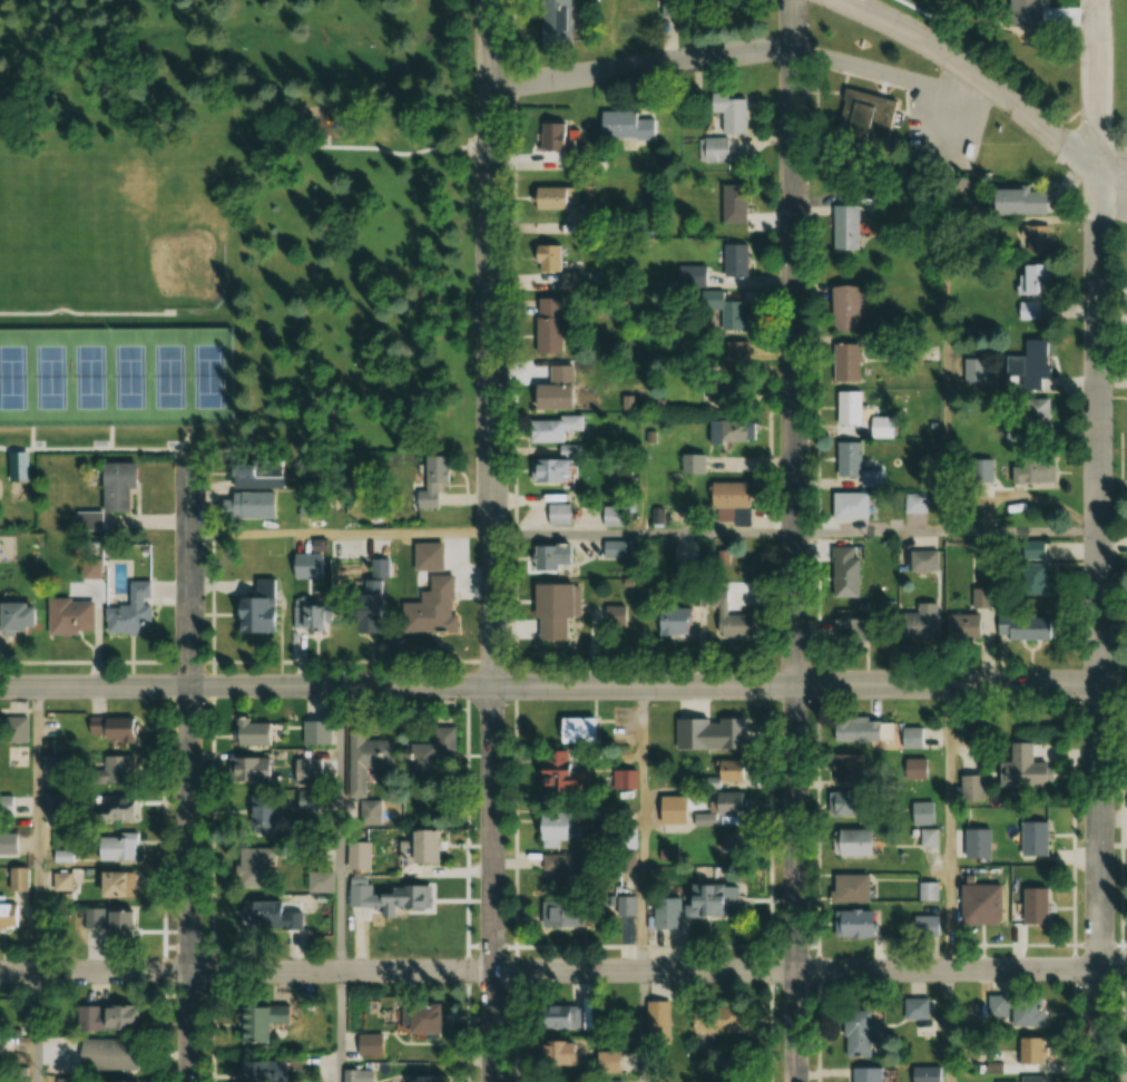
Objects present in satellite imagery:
building: (1023, 13)
building: (555, 21)
road: (940, 23)
road: (641, 66)
road: (993, 86)
building: (727, 113)
building: (625, 126)
road: (964, 134)
building: (860, 137)
building: (552, 138)
building: (713, 150)
road: (1113, 167)
building: (552, 197)
building: (1016, 202)
building: (733, 205)
park: (156, 227)
building: (844, 228)
park: (234, 230)
park: (33, 232)
building: (1033, 238)
building: (546, 259)
building: (734, 260)
building: (1031, 280)
building: (547, 306)
building: (842, 308)
building: (1028, 311)
building: (731, 316)
building: (546, 335)
building: (737, 358)
road: (948, 360)
building: (844, 362)
building: (1029, 365)
building: (976, 372)
park: (116, 377)
building: (553, 390)
building: (846, 407)
building: (1036, 417)
building: (550, 429)
building: (731, 430)
building: (846, 459)
building: (14, 466)
building: (981, 470)
building: (1032, 470)
building: (547, 471)
building: (431, 482)
building: (115, 486)
building: (729, 501)
building: (914, 504)
building: (252, 505)
building: (847, 505)
building: (552, 515)
building: (612, 516)
road: (645, 532)
road: (872, 532)
road: (1023, 532)
road: (341, 533)
road: (493, 540)
road: (796, 540)
road: (1099, 540)
building: (615, 548)
building: (550, 557)
building: (843, 573)
road: (189, 574)
building: (1037, 577)
building: (980, 598)
building: (364, 606)
building: (257, 608)
building: (431, 608)
building: (130, 611)
building: (305, 611)
building: (551, 612)
building: (71, 616)
building: (22, 618)
building: (729, 618)
building: (673, 622)
building: (918, 622)
building: (960, 625)
building: (1022, 627)
road: (95, 685)
road: (658, 685)
building: (14, 728)
building: (110, 728)
building: (853, 729)
building: (578, 730)
building: (252, 732)
building: (317, 732)
building: (707, 733)
building: (432, 753)
building: (19, 757)
building: (1019, 759)
building: (846, 767)
building: (917, 768)
building: (111, 769)
building: (248, 769)
building: (556, 770)
building: (725, 772)
building: (623, 778)
building: (355, 783)
building: (973, 787)
building: (849, 803)
building: (6, 805)
building: (721, 808)
building: (115, 810)
building: (262, 812)
building: (921, 812)
parking lot: (1125, 815)
building: (557, 826)
road: (949, 827)
road: (341, 828)
road: (643, 828)
road: (38, 829)
building: (928, 837)
building: (1032, 837)
building: (850, 841)
building: (7, 844)
building: (416, 844)
building: (114, 847)
building: (357, 855)
building: (253, 865)
building: (562, 868)
building: (18, 878)
building: (61, 880)
building: (320, 880)
building: (112, 884)
road: (190, 884)
building: (850, 887)
building: (928, 890)
building: (360, 896)
building: (405, 898)
building: (978, 903)
building: (623, 905)
building: (695, 905)
building: (1032, 905)
building: (559, 913)
building: (268, 915)
building: (110, 922)
building: (852, 924)
road: (95, 972)
road: (659, 972)
building: (1010, 1010)
building: (555, 1015)
building: (105, 1017)
building: (419, 1017)
building: (658, 1021)
building: (248, 1024)
building: (728, 1024)
road: (38, 1026)
road: (340, 1026)
road: (643, 1026)
road: (949, 1026)
building: (855, 1033)
building: (370, 1044)
building: (1029, 1050)
building: (556, 1052)
building: (108, 1053)
building: (606, 1062)
building: (253, 1071)
building: (923, 1073)
building: (863, 1074)
building: (355, 1075)
building: (421, 1078)
building: (1031, 1079)
building: (115, 1080)
building: (561, 1081)

